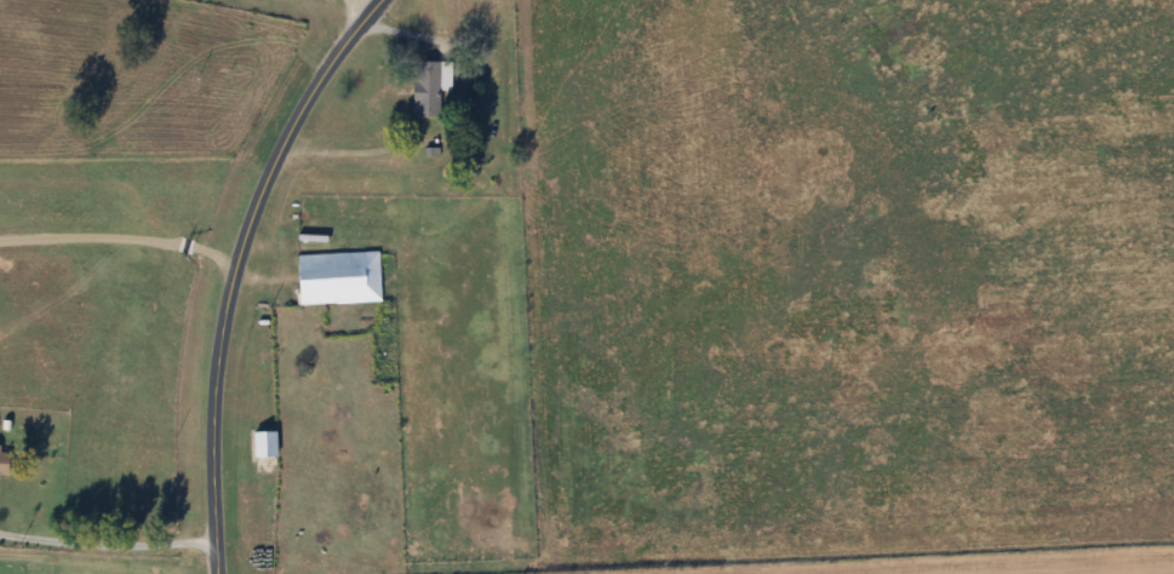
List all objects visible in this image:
road: (354, 12)
building: (431, 87)
road: (241, 268)
building: (340, 279)
building: (267, 444)
building: (5, 460)
road: (110, 556)

